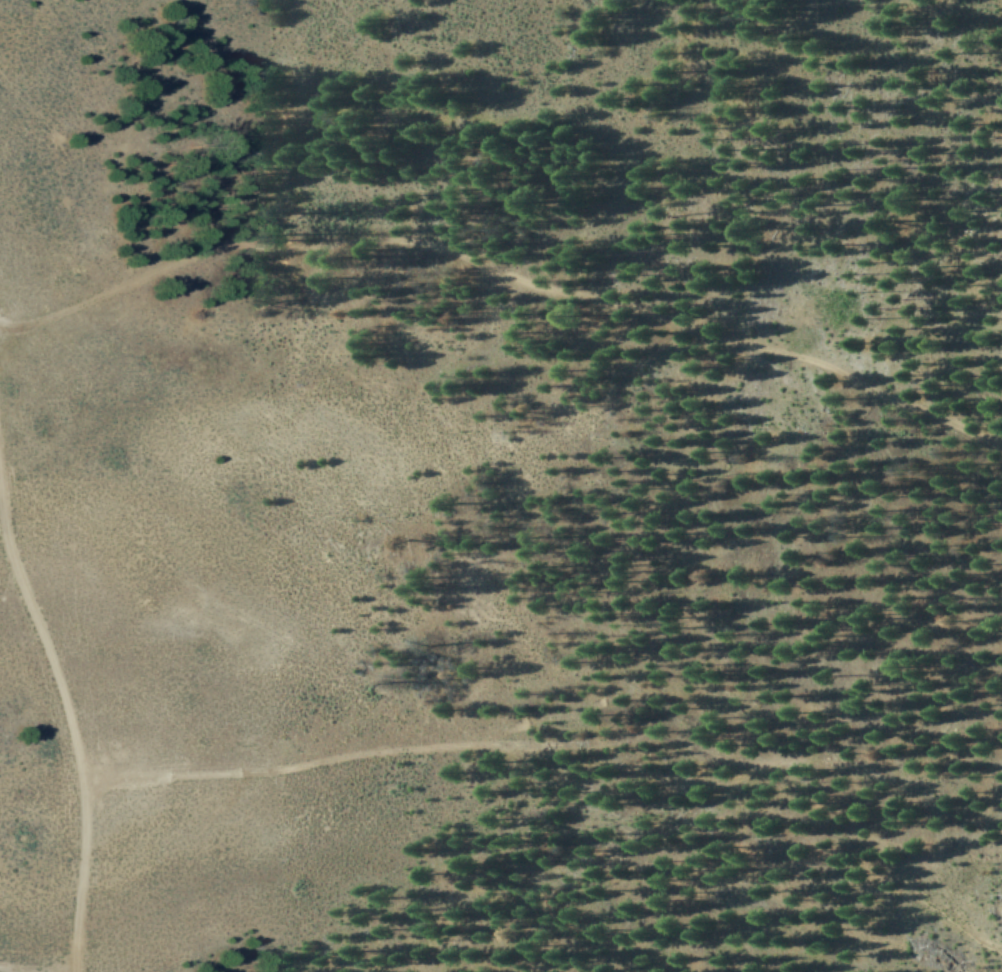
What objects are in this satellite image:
road: (49, 799)

